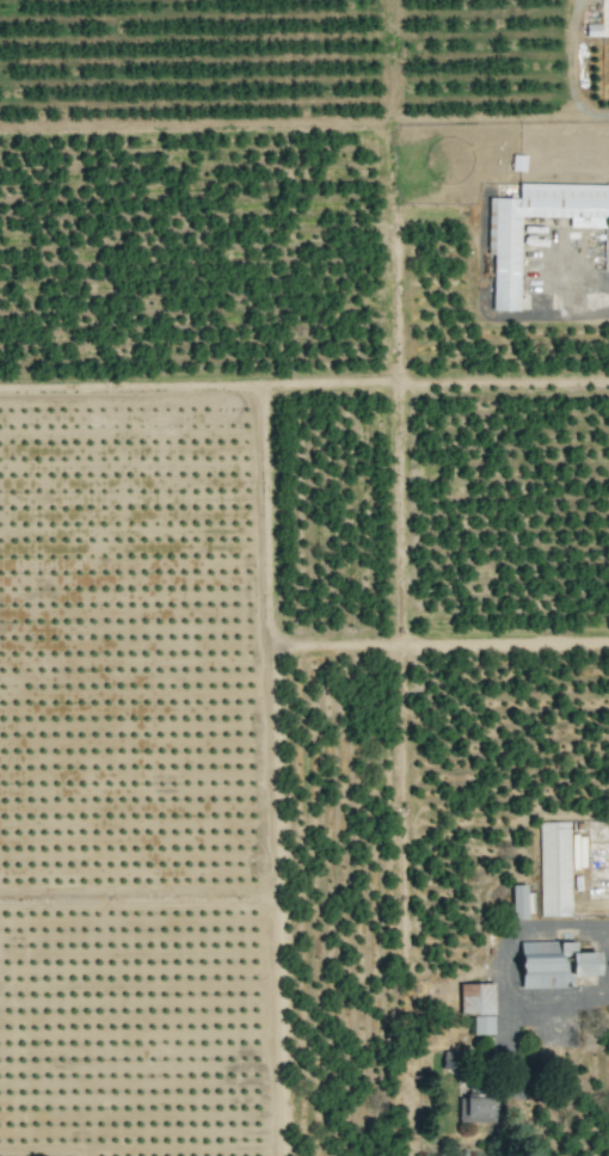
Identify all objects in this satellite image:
building: (517, 164)
building: (503, 240)
road: (586, 308)
crop: (304, 578)
building: (554, 868)
building: (517, 902)
road: (519, 927)
building: (553, 964)
road: (540, 1003)
building: (476, 1006)
building: (449, 1059)
building: (475, 1108)

